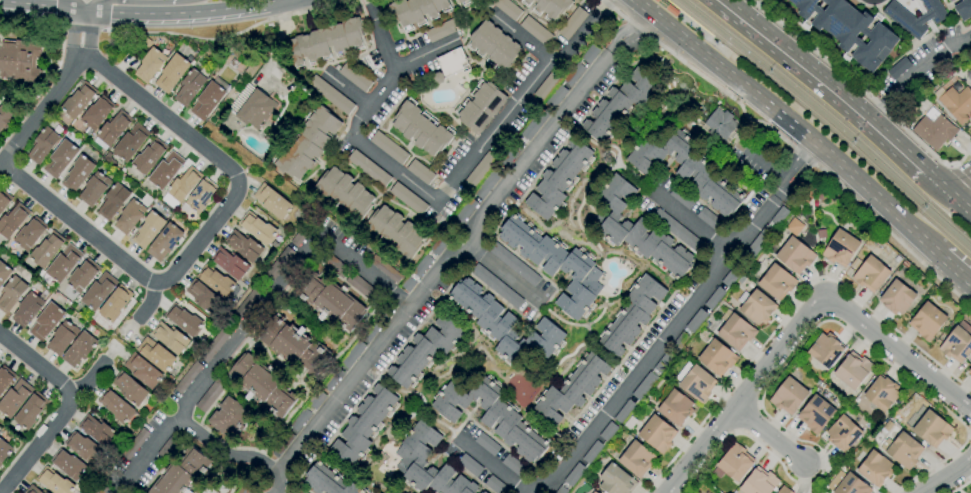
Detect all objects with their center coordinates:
road: (133, 1)
building: (950, 1)
building: (463, 2)
road: (605, 3)
road: (70, 4)
road: (42, 5)
building: (550, 7)
building: (667, 7)
road: (312, 9)
building: (507, 9)
building: (963, 9)
building: (416, 11)
road: (178, 12)
road: (31, 21)
building: (910, 21)
building: (571, 23)
road: (81, 29)
road: (82, 30)
building: (442, 30)
building: (849, 30)
building: (536, 31)
road: (582, 34)
road: (378, 35)
road: (193, 38)
building: (325, 42)
railway: (706, 42)
building: (493, 45)
building: (590, 55)
road: (425, 57)
building: (20, 60)
building: (149, 65)
building: (449, 65)
building: (898, 68)
road: (915, 72)
building: (172, 73)
building: (573, 74)
building: (354, 77)
road: (824, 82)
building: (548, 85)
building: (191, 86)
road: (346, 90)
road: (864, 93)
building: (331, 95)
building: (556, 97)
building: (209, 98)
building: (78, 101)
building: (957, 103)
building: (618, 105)
building: (481, 106)
building: (252, 107)
road: (42, 109)
building: (96, 114)
railway: (833, 116)
building: (5, 118)
railway: (825, 122)
road: (792, 123)
building: (534, 124)
building: (720, 124)
road: (764, 124)
building: (421, 128)
building: (113, 129)
building: (934, 129)
building: (130, 143)
building: (307, 143)
building: (42, 145)
building: (389, 148)
building: (511, 153)
building: (60, 158)
building: (148, 158)
road: (767, 167)
building: (368, 168)
building: (686, 169)
building: (165, 170)
building: (480, 171)
building: (420, 172)
road: (959, 173)
building: (78, 174)
road: (458, 175)
building: (559, 180)
building: (488, 183)
building: (183, 186)
building: (94, 189)
road: (946, 191)
road: (963, 191)
building: (344, 192)
building: (820, 196)
building: (200, 197)
building: (682, 197)
building: (408, 199)
building: (272, 201)
building: (3, 202)
building: (113, 202)
building: (464, 212)
building: (129, 216)
building: (779, 216)
building: (709, 219)
building: (12, 221)
road: (688, 221)
building: (258, 228)
building: (148, 230)
building: (637, 230)
building: (396, 231)
building: (677, 231)
road: (205, 233)
building: (29, 234)
building: (821, 234)
building: (299, 237)
building: (759, 241)
building: (164, 242)
building: (440, 244)
building: (243, 246)
building: (840, 248)
road: (456, 250)
building: (46, 251)
building: (794, 255)
building: (280, 262)
building: (230, 263)
building: (63, 264)
building: (513, 264)
building: (555, 264)
building: (855, 264)
building: (422, 266)
building: (384, 268)
road: (956, 270)
building: (4, 272)
building: (870, 274)
building: (83, 275)
road: (496, 275)
building: (730, 278)
building: (215, 281)
road: (941, 281)
building: (777, 282)
building: (356, 284)
building: (408, 284)
building: (496, 286)
building: (99, 291)
building: (11, 294)
building: (203, 296)
building: (897, 298)
building: (714, 299)
building: (329, 301)
road: (149, 302)
building: (115, 303)
building: (246, 303)
building: (758, 308)
building: (27, 310)
building: (632, 315)
road: (680, 318)
building: (184, 320)
road: (254, 320)
building: (46, 321)
building: (696, 321)
building: (927, 321)
building: (505, 325)
building: (372, 329)
building: (736, 332)
road: (897, 333)
building: (170, 337)
building: (62, 338)
building: (679, 342)
building: (957, 343)
building: (214, 345)
building: (293, 346)
building: (79, 349)
building: (426, 350)
building: (825, 350)
road: (897, 351)
building: (156, 354)
building: (353, 354)
building: (717, 358)
building: (663, 362)
road: (786, 364)
building: (143, 370)
building: (852, 371)
building: (969, 372)
building: (187, 377)
road: (90, 379)
building: (332, 379)
building: (4, 380)
road: (733, 382)
building: (697, 384)
building: (262, 385)
building: (644, 386)
building: (129, 388)
building: (571, 389)
road: (745, 393)
building: (882, 393)
building: (210, 395)
building: (788, 396)
building: (15, 398)
building: (316, 399)
building: (674, 405)
road: (69, 406)
building: (115, 406)
building: (30, 410)
building: (624, 411)
building: (815, 414)
building: (492, 416)
building: (229, 417)
building: (300, 418)
building: (364, 425)
building: (888, 425)
building: (931, 429)
building: (98, 430)
building: (608, 431)
building: (843, 433)
building: (657, 434)
road: (768, 434)
building: (283, 441)
building: (134, 444)
building: (487, 444)
building: (82, 447)
building: (168, 448)
building: (4, 450)
road: (224, 450)
building: (902, 450)
building: (592, 452)
building: (412, 456)
building: (637, 459)
building: (735, 462)
building: (69, 465)
building: (469, 465)
building: (513, 466)
road: (490, 467)
building: (875, 469)
building: (181, 473)
building: (574, 475)
road: (948, 476)
building: (616, 480)
building: (328, 481)
building: (54, 482)
building: (758, 482)
building: (495, 485)
building: (851, 485)
road: (961, 486)
building: (245, 488)
building: (99, 489)
road: (276, 489)
building: (32, 490)
building: (561, 490)
building: (784, 490)
building: (299, 491)
building: (482, 492)
building: (484, 492)
building: (591, 492)
building: (594, 492)

